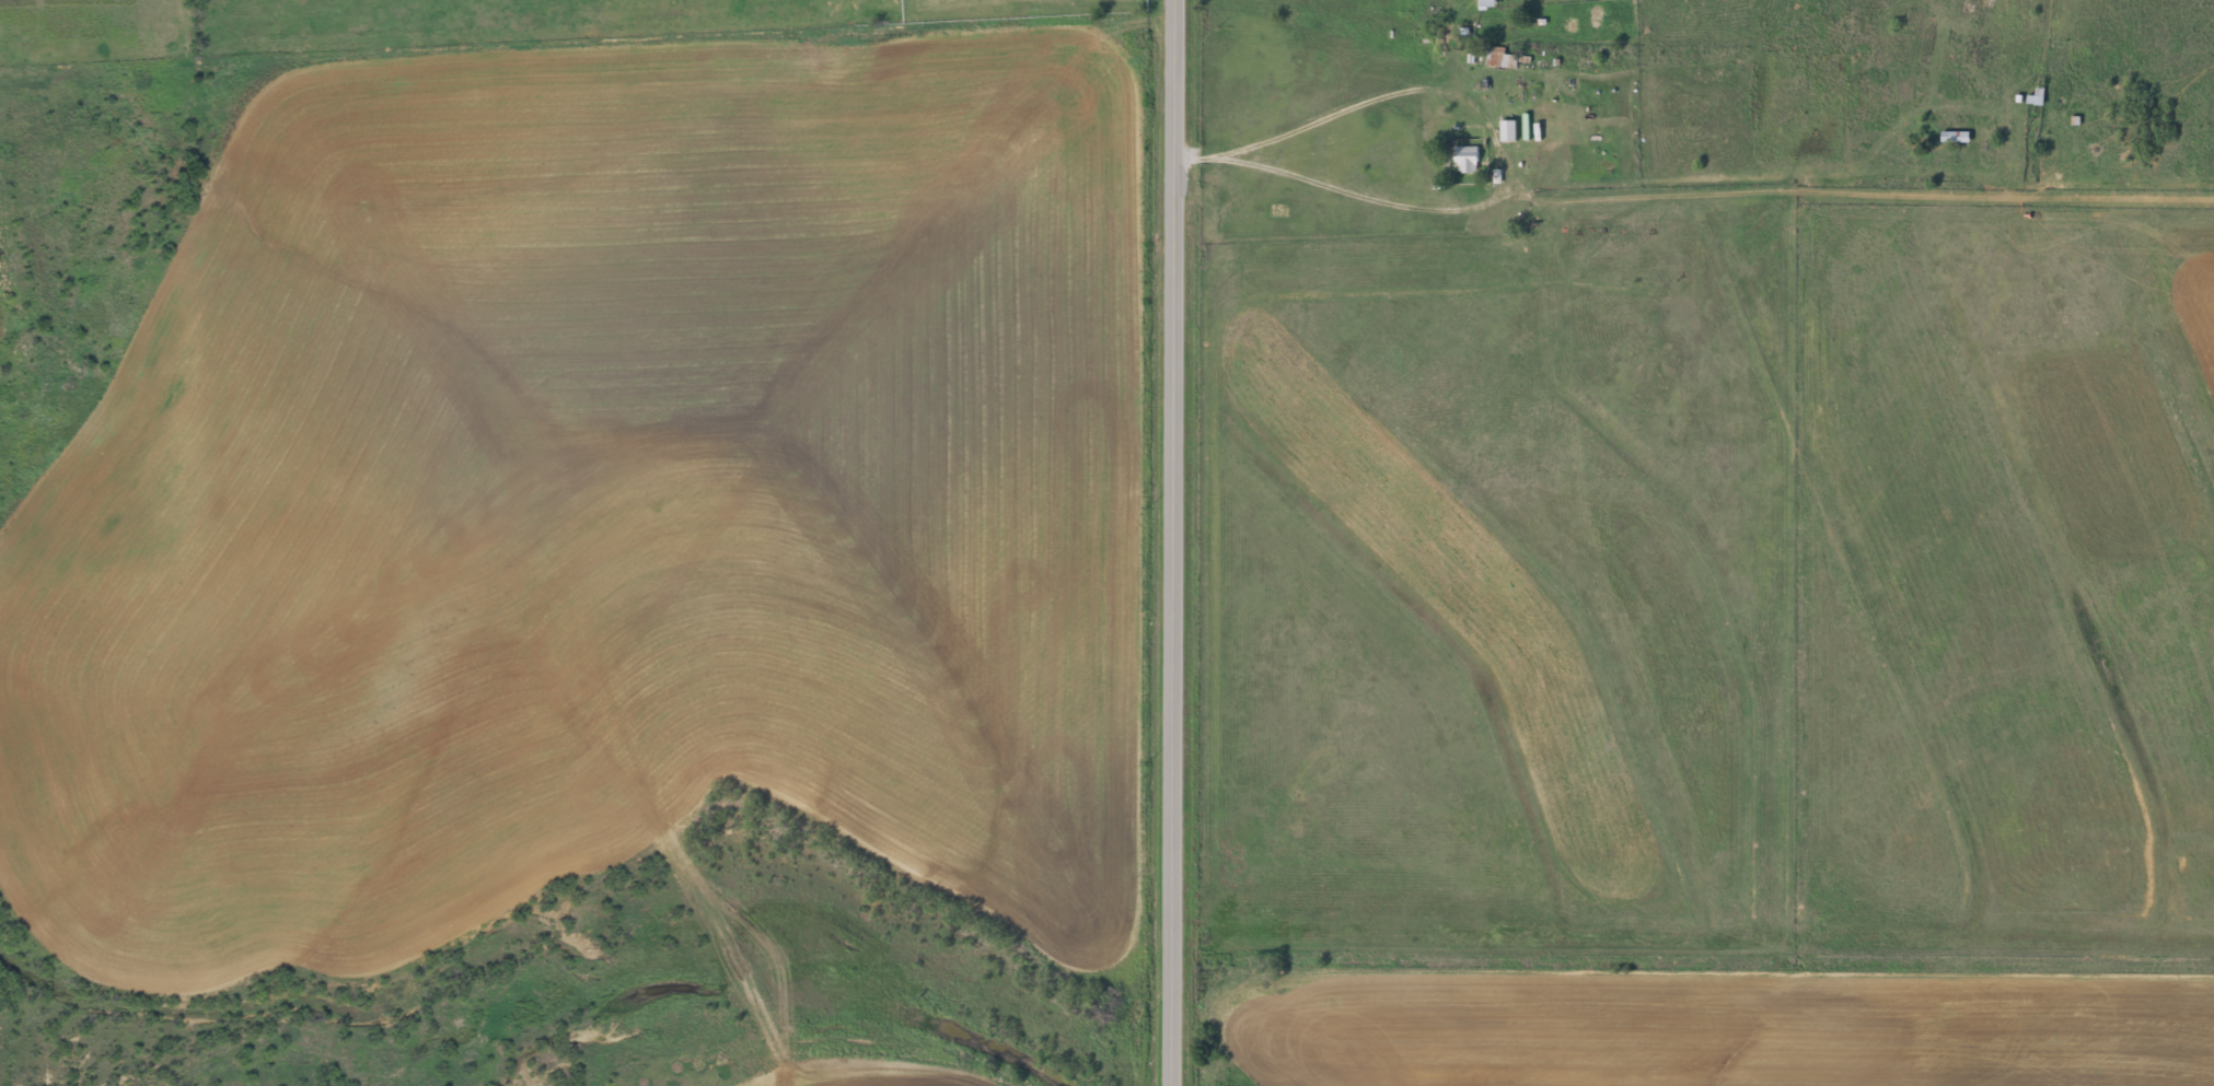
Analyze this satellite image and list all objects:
building: (1487, 4)
building: (1502, 57)
building: (2038, 95)
building: (1507, 130)
building: (1955, 137)
building: (1467, 159)
road: (1553, 394)
road: (1178, 542)

